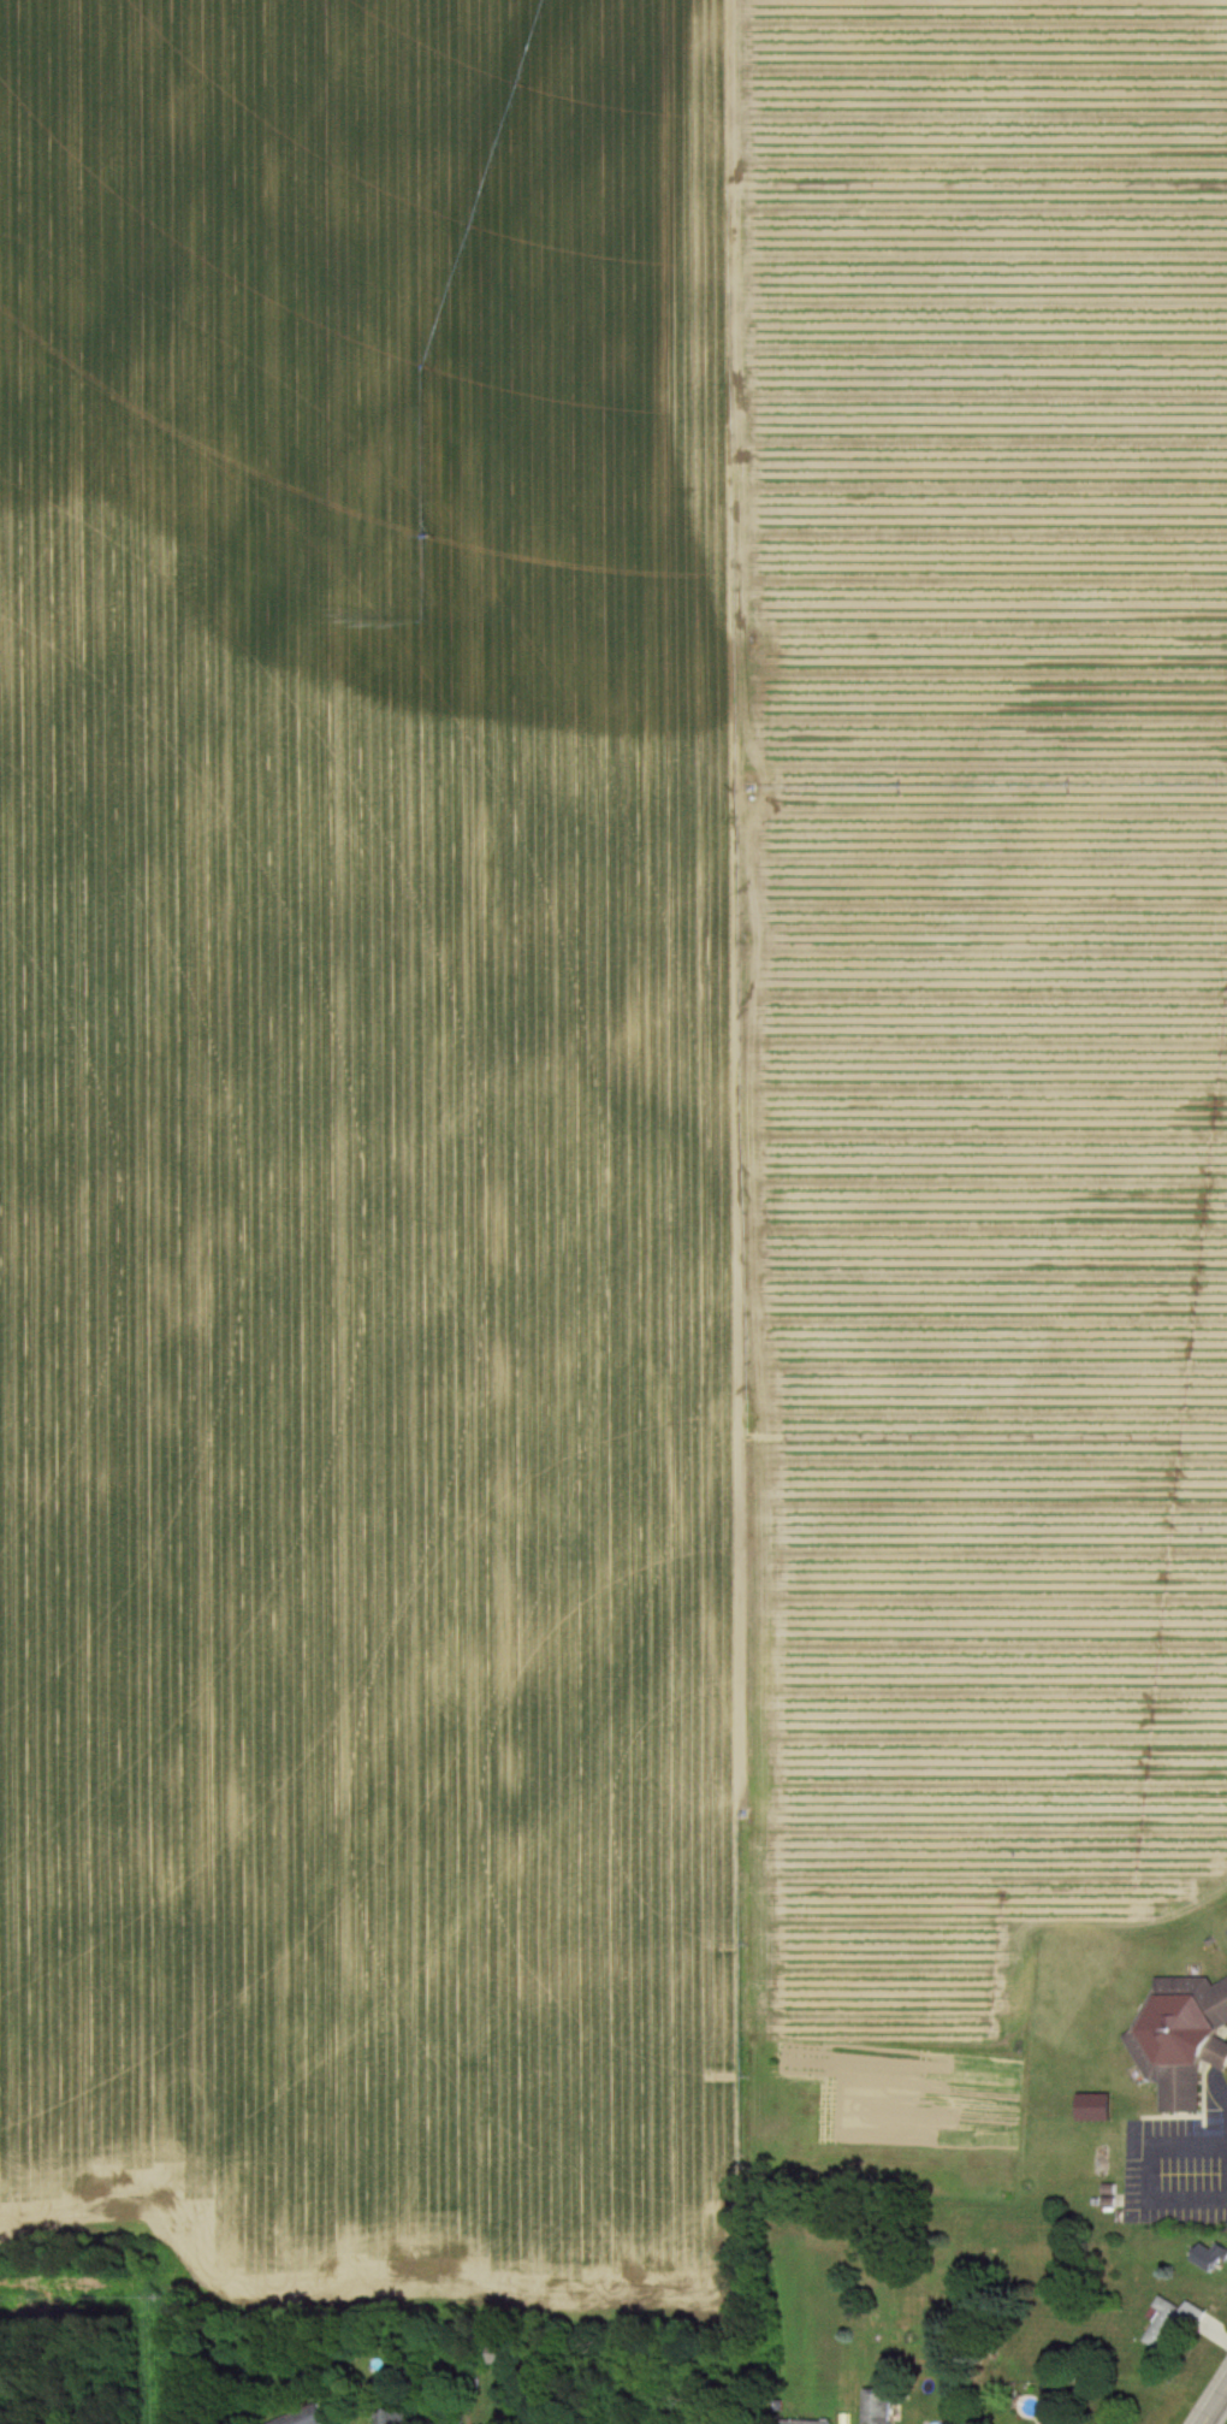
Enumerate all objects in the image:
crop: (594, 1107)
building: (1182, 2039)
building: (1213, 2257)
building: (1166, 2324)
road: (1214, 2404)
building: (879, 2406)
building: (307, 2417)
building: (397, 2417)
building: (808, 2422)

